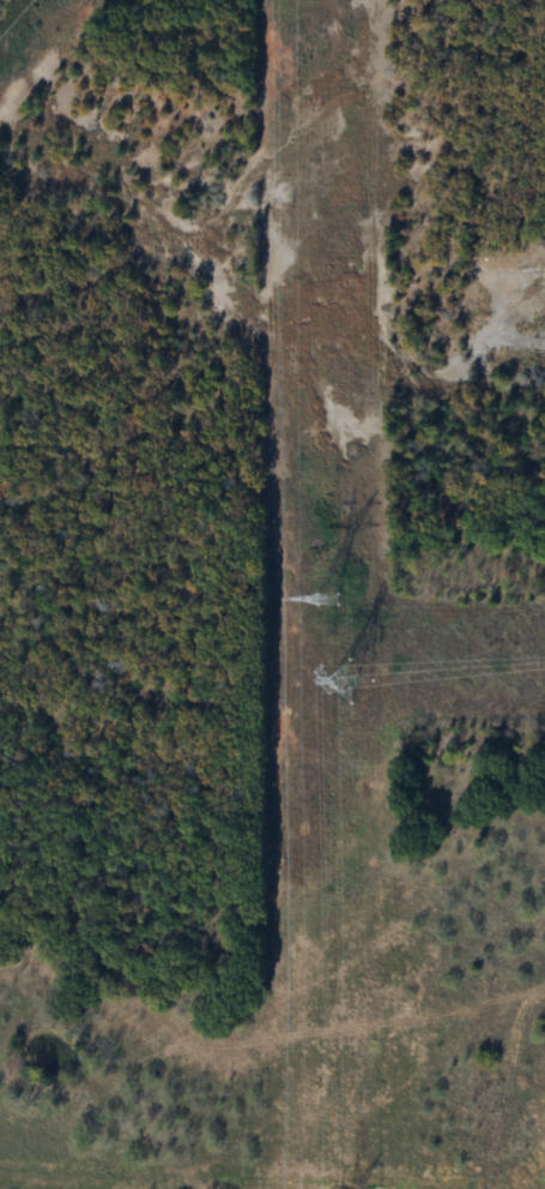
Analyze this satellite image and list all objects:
power tower: (321, 601)
power tower: (343, 678)

